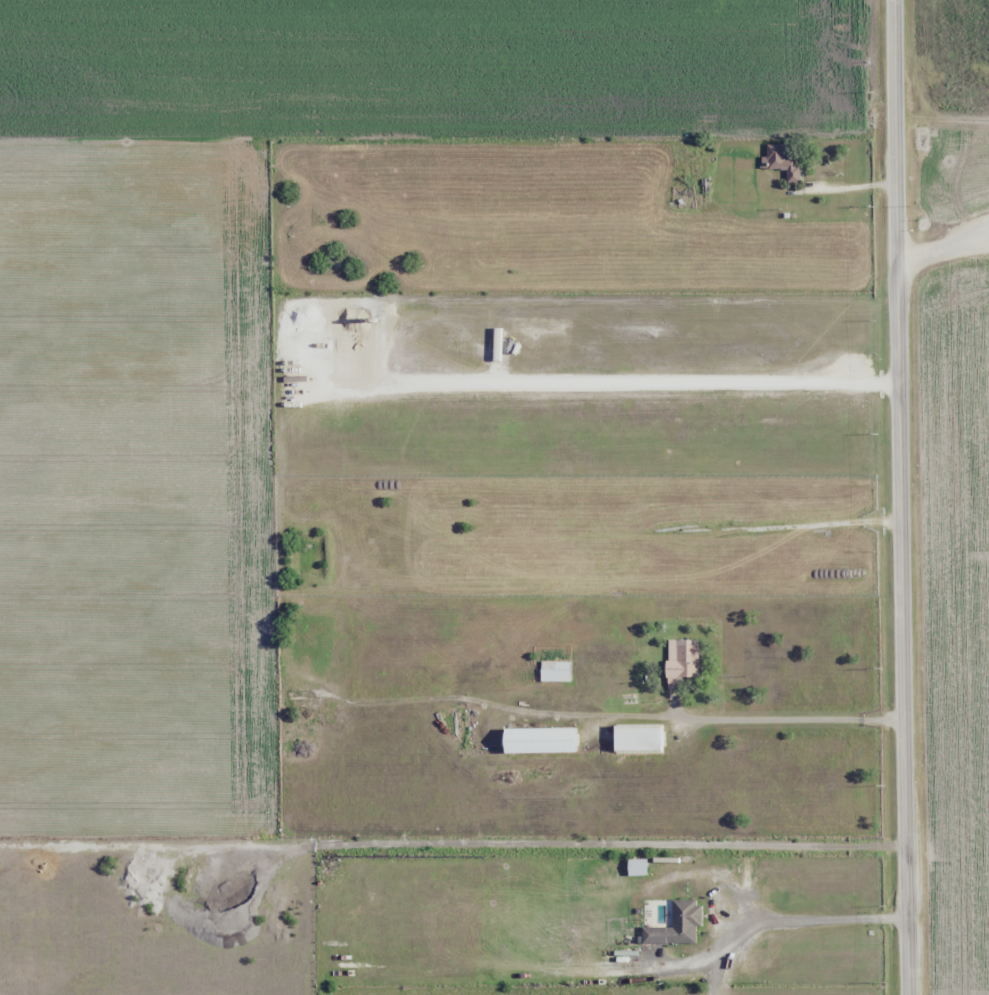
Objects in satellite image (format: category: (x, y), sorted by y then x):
crop: (956, 110)
building: (783, 160)
road: (908, 497)
crop: (958, 622)
building: (681, 658)
building: (554, 671)
building: (636, 738)
building: (538, 740)
building: (636, 867)
building: (676, 925)

